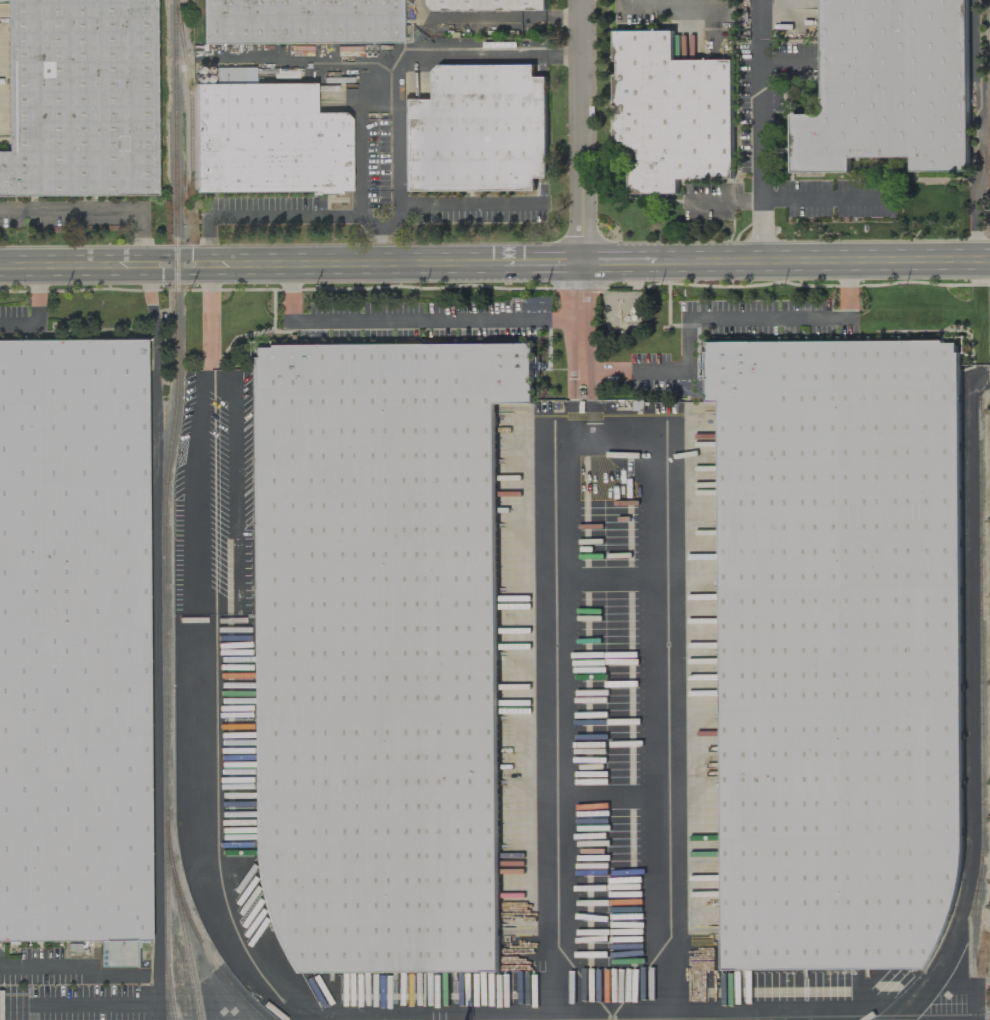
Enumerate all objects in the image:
road: (645, 4)
building: (485, 5)
road: (685, 5)
road: (493, 18)
railway: (198, 21)
building: (301, 22)
road: (487, 58)
road: (364, 74)
building: (229, 75)
building: (889, 87)
railway: (190, 93)
building: (80, 99)
building: (671, 113)
road: (761, 129)
road: (982, 129)
building: (477, 130)
road: (584, 130)
building: (268, 141)
road: (726, 203)
road: (460, 206)
road: (98, 209)
road: (300, 212)
road: (494, 261)
road: (37, 311)
building: (622, 313)
road: (580, 316)
road: (716, 317)
road: (404, 319)
road: (574, 395)
road: (591, 395)
railway: (163, 523)
building: (78, 647)
building: (379, 650)
building: (840, 653)
road: (192, 664)
railway: (967, 711)
railway: (980, 718)
railway: (166, 922)
railway: (185, 946)
road: (106, 969)
road: (634, 1016)
road: (463, 1018)

